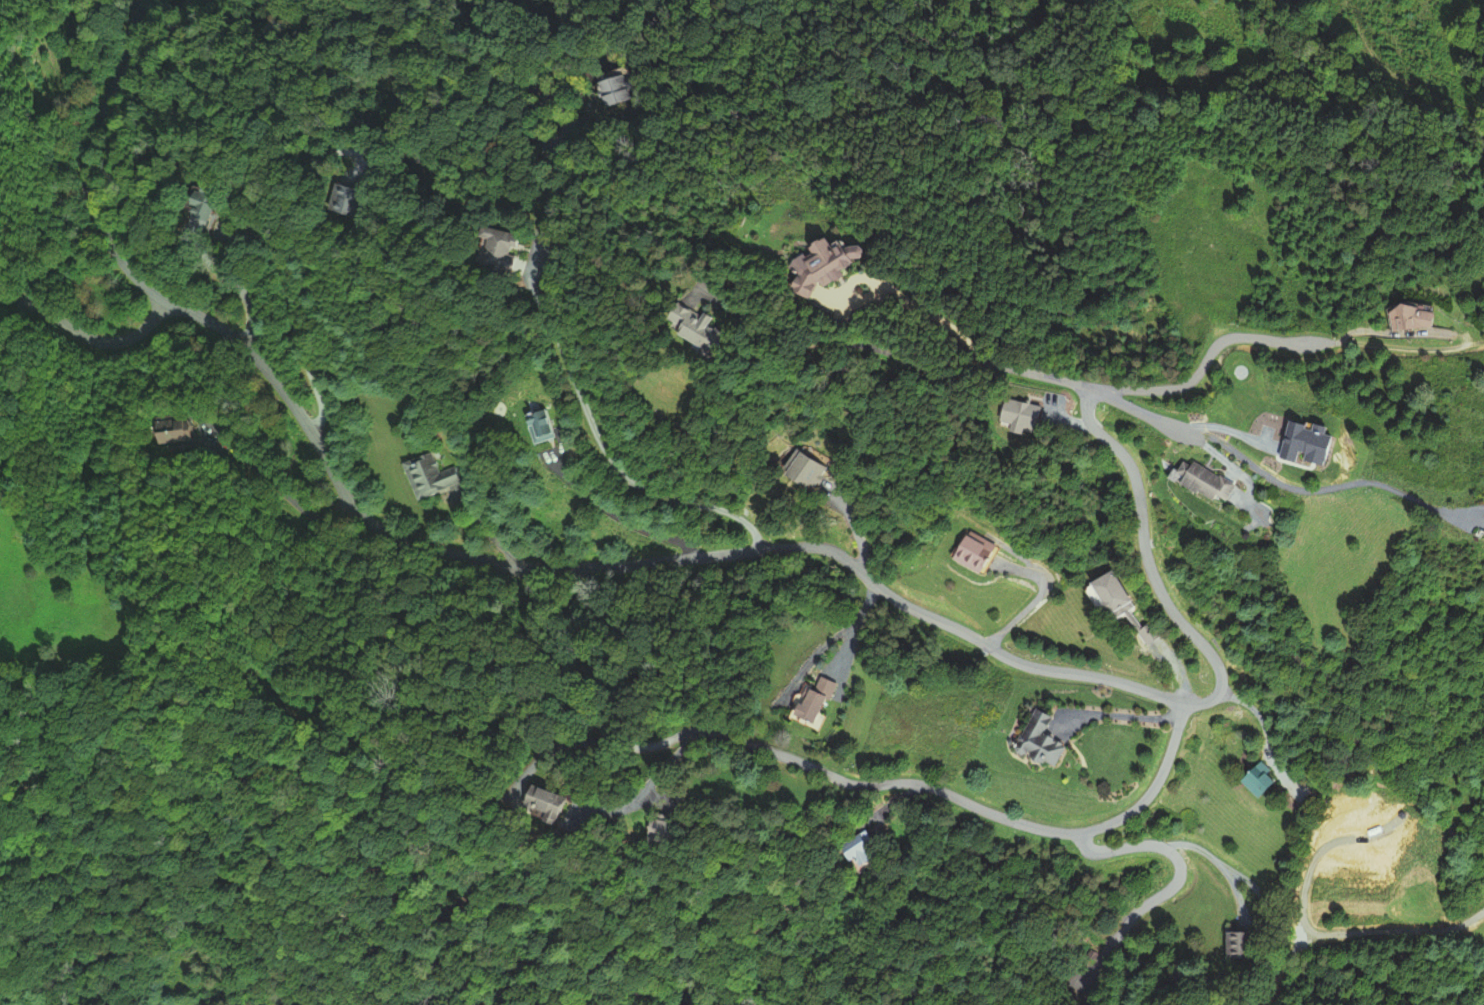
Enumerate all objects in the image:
building: (602, 90)
road: (269, 242)
building: (493, 248)
building: (815, 265)
road: (228, 279)
building: (1407, 317)
building: (693, 325)
road: (1401, 334)
road: (87, 337)
road: (835, 341)
road: (1408, 348)
road: (1208, 355)
road: (566, 364)
road: (1040, 374)
road: (1140, 411)
building: (545, 427)
building: (160, 433)
building: (818, 472)
building: (432, 476)
building: (1207, 483)
road: (1327, 488)
road: (613, 513)
building: (1481, 534)
building: (971, 550)
road: (659, 562)
building: (1115, 594)
road: (1035, 599)
building: (1156, 631)
road: (1175, 670)
building: (813, 703)
road: (1118, 714)
road: (1259, 719)
building: (1033, 743)
road: (664, 765)
building: (1258, 780)
road: (878, 781)
road: (891, 802)
building: (541, 803)
road: (881, 821)
building: (655, 830)
building: (853, 847)
road: (1220, 864)
road: (1177, 884)
road: (1238, 897)
building: (1240, 942)

